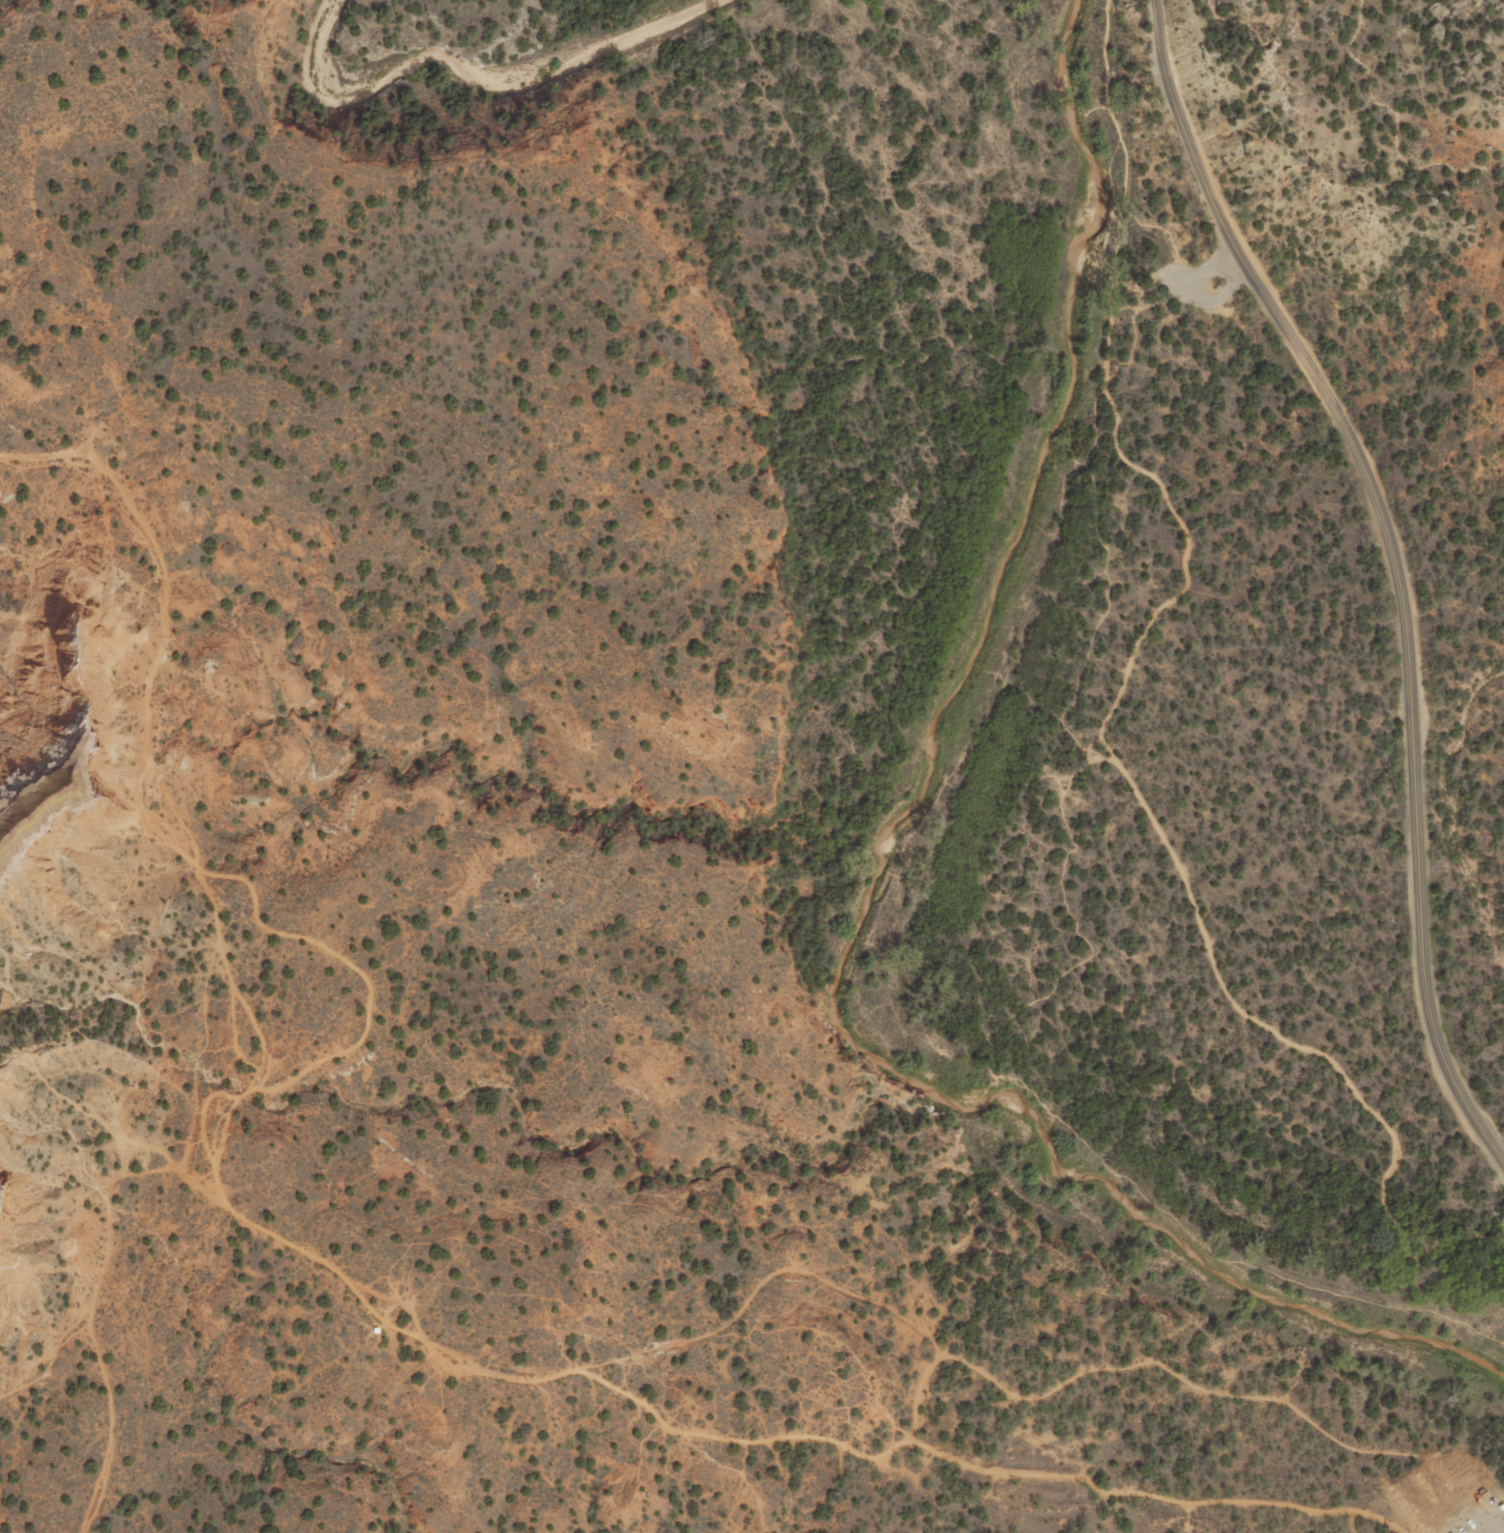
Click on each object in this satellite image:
road: (1401, 562)
road: (1063, 728)
river: (873, 884)
road: (93, 1293)
road: (378, 1310)
road: (52, 1358)
road: (1190, 1380)
parking lot: (1472, 1514)

